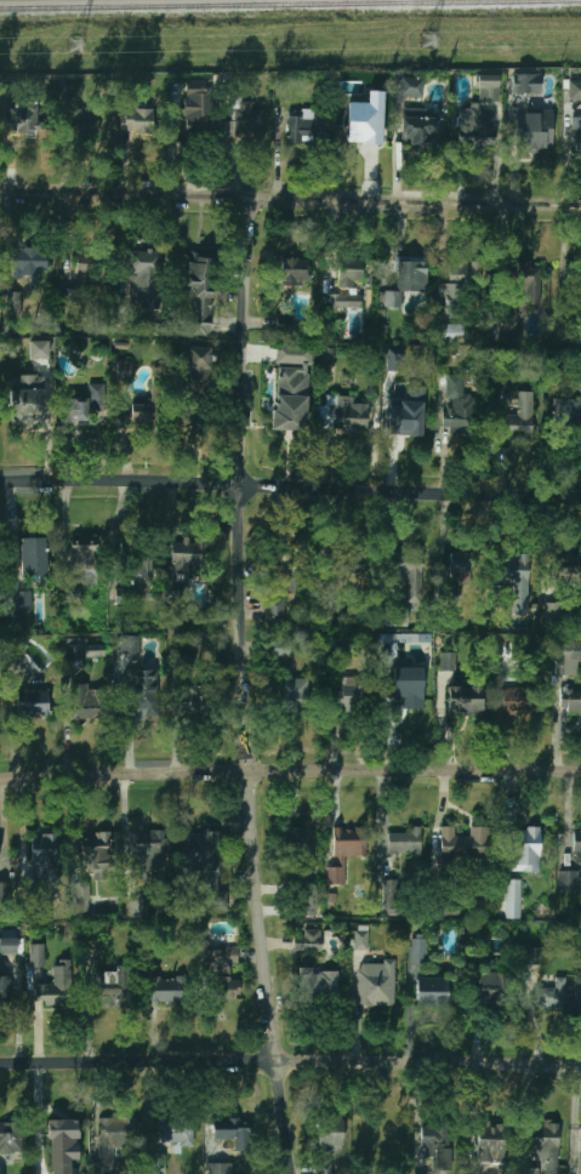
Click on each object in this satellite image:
railway: (290, 5)
power tower: (429, 42)
power tower: (75, 45)
building: (526, 82)
building: (411, 86)
building: (488, 87)
building: (575, 90)
building: (195, 108)
building: (22, 118)
building: (365, 120)
building: (243, 121)
building: (79, 122)
building: (137, 125)
building: (420, 126)
building: (475, 126)
building: (306, 130)
building: (537, 130)
building: (576, 133)
road: (290, 198)
building: (28, 263)
building: (295, 269)
building: (349, 272)
building: (410, 273)
building: (454, 277)
building: (143, 280)
building: (528, 280)
building: (199, 292)
building: (346, 301)
building: (15, 304)
building: (284, 324)
building: (450, 331)
building: (39, 349)
building: (394, 359)
building: (125, 367)
building: (198, 367)
building: (291, 388)
building: (97, 395)
building: (27, 399)
building: (457, 403)
building: (75, 409)
building: (566, 411)
building: (184, 412)
building: (406, 412)
building: (138, 414)
building: (346, 415)
building: (518, 420)
road: (50, 424)
road: (290, 488)
building: (33, 555)
building: (84, 558)
building: (342, 562)
building: (460, 563)
building: (565, 564)
building: (181, 565)
building: (292, 566)
building: (137, 572)
building: (409, 574)
building: (516, 579)
building: (72, 593)
building: (450, 593)
building: (22, 603)
building: (277, 609)
building: (553, 611)
building: (394, 617)
building: (130, 644)
building: (95, 650)
building: (75, 652)
building: (568, 656)
building: (449, 661)
road: (245, 685)
building: (409, 688)
building: (295, 690)
building: (513, 694)
building: (348, 695)
building: (146, 696)
building: (194, 699)
building: (570, 699)
building: (465, 700)
building: (89, 701)
building: (33, 702)
road: (290, 771)
road: (380, 823)
building: (404, 843)
building: (465, 843)
building: (577, 843)
building: (298, 844)
building: (347, 848)
building: (526, 849)
building: (45, 850)
building: (99, 855)
building: (149, 855)
building: (205, 866)
building: (569, 879)
building: (5, 890)
building: (82, 896)
building: (391, 896)
building: (513, 897)
building: (308, 900)
building: (138, 907)
building: (95, 936)
building: (360, 938)
building: (308, 940)
building: (8, 941)
building: (418, 950)
building: (36, 956)
building: (536, 956)
building: (213, 970)
building: (376, 982)
building: (56, 986)
building: (492, 986)
building: (110, 987)
building: (165, 990)
building: (317, 990)
building: (432, 991)
building: (549, 996)
road: (86, 1004)
road: (290, 1059)
building: (230, 1132)
building: (176, 1133)
building: (115, 1135)
building: (11, 1138)
building: (330, 1138)
building: (63, 1144)
building: (437, 1144)
building: (490, 1144)
building: (543, 1147)
building: (579, 1151)
building: (158, 1162)
building: (218, 1168)
building: (325, 1169)

